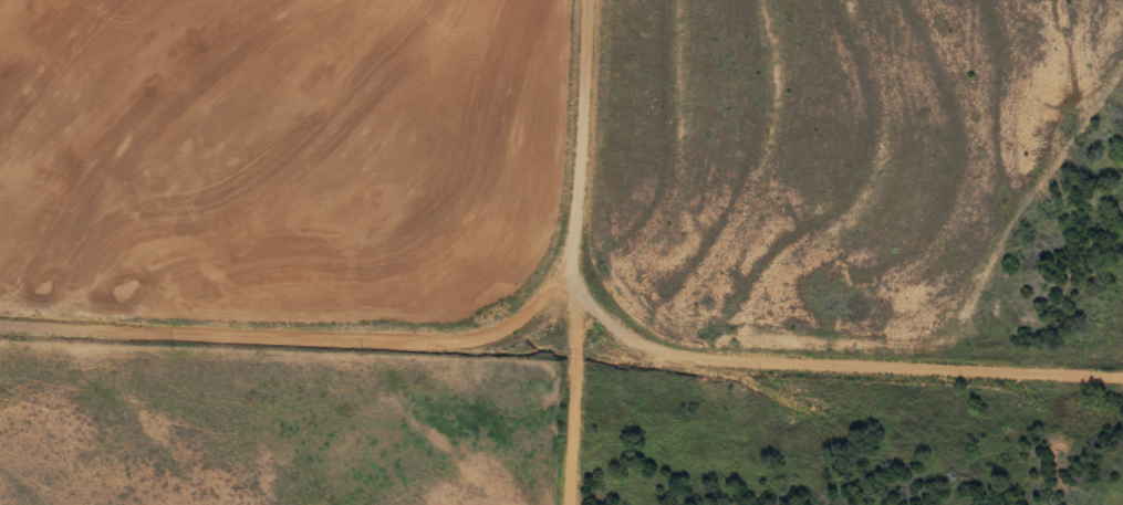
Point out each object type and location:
road: (578, 252)
road: (561, 345)

